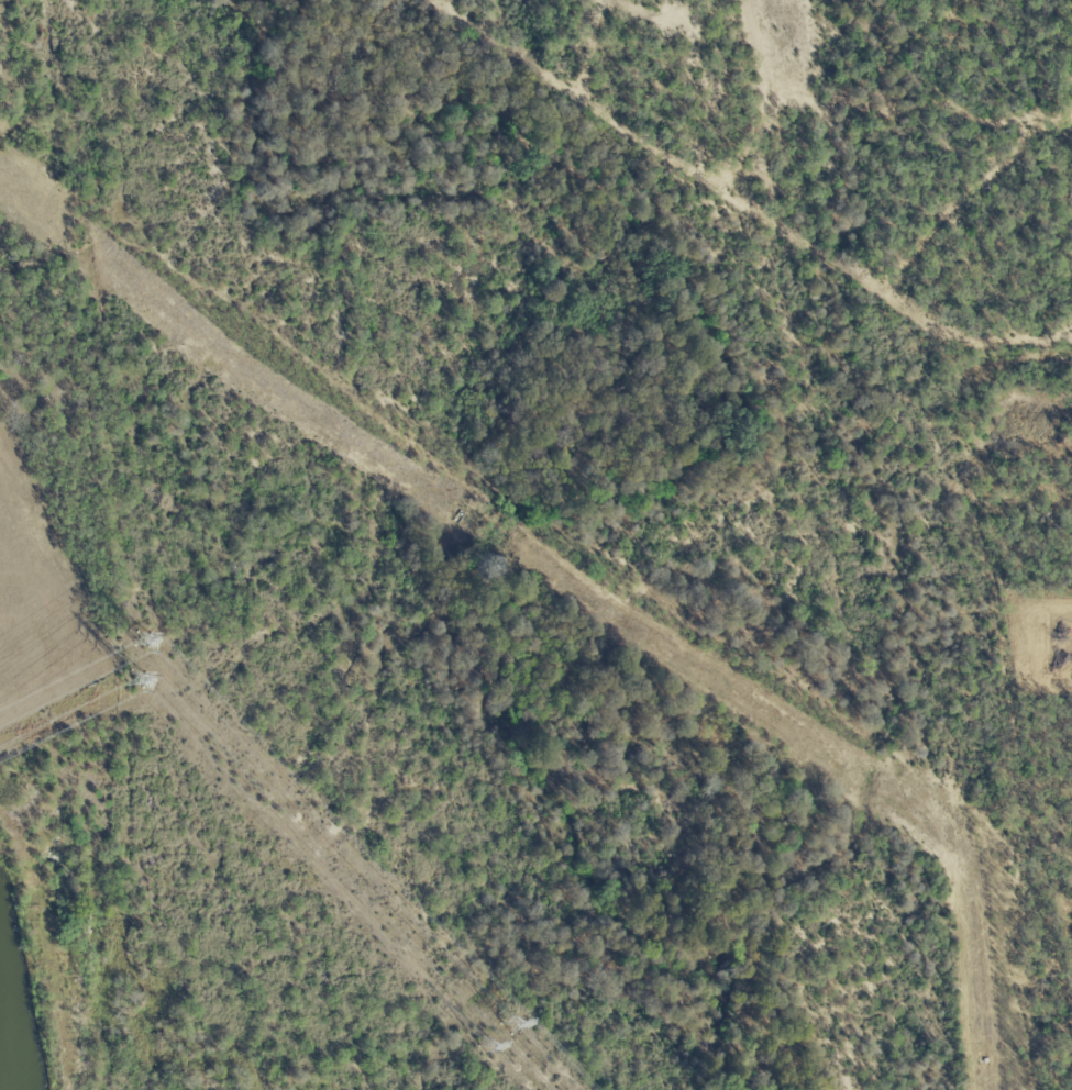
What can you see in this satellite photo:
power tower: (146, 637)
power tower: (135, 679)
power tower: (517, 1023)
power tower: (497, 1048)

